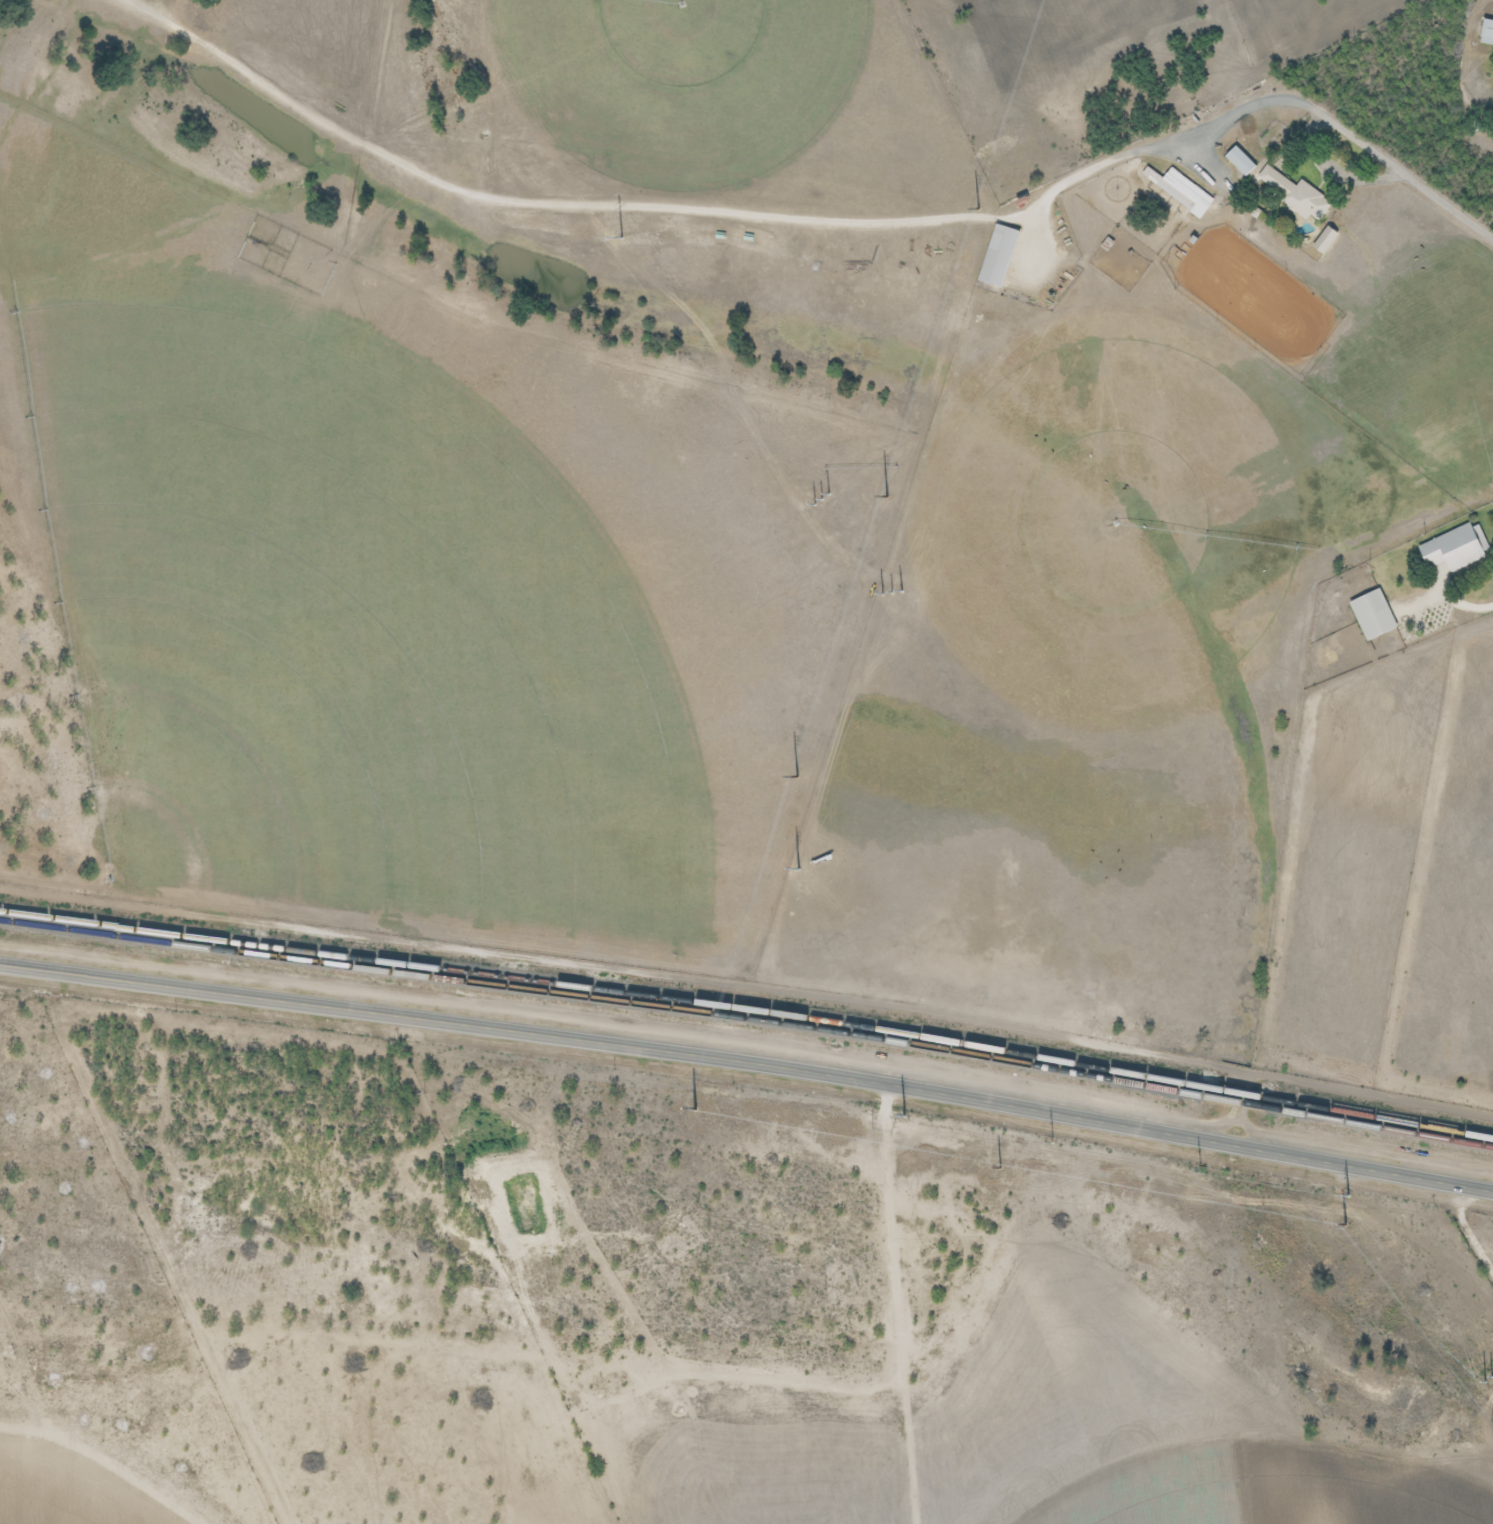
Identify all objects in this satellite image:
building: (1487, 26)
building: (1239, 162)
road: (1402, 166)
building: (1182, 189)
building: (1293, 194)
power tower: (985, 209)
road: (710, 210)
power tower: (614, 229)
building: (997, 256)
power tower: (888, 496)
power tower: (828, 507)
building: (1454, 549)
building: (1372, 615)
power tower: (794, 775)
power tower: (1042, 786)
railway: (603, 988)
railway: (603, 998)
power tower: (1246, 1054)
road: (748, 1061)
railway: (1240, 1093)
railway: (1239, 1102)
power tower: (695, 1110)
railway: (1384, 1119)
railway: (1383, 1128)
power tower: (1026, 1170)
power tower: (1362, 1201)
power tower: (1351, 1223)
power tower: (1485, 1370)

